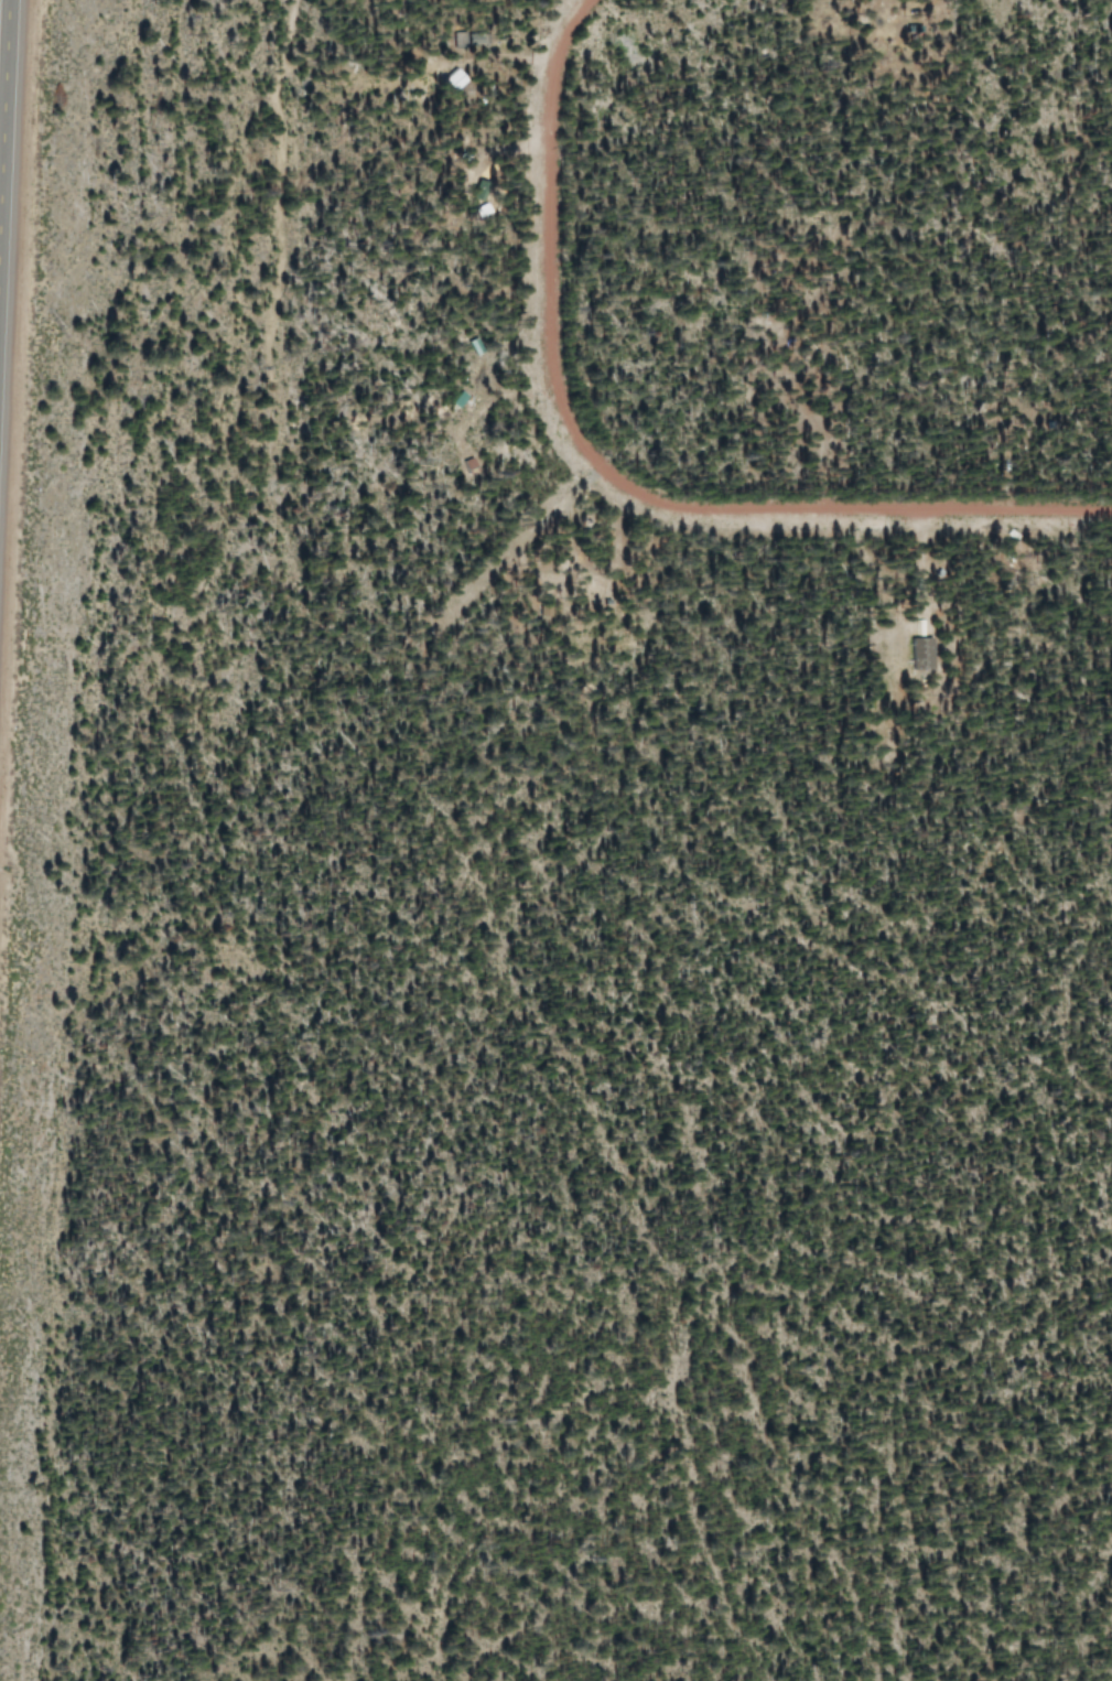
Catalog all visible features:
road: (2, 64)
road: (607, 475)
building: (915, 654)

